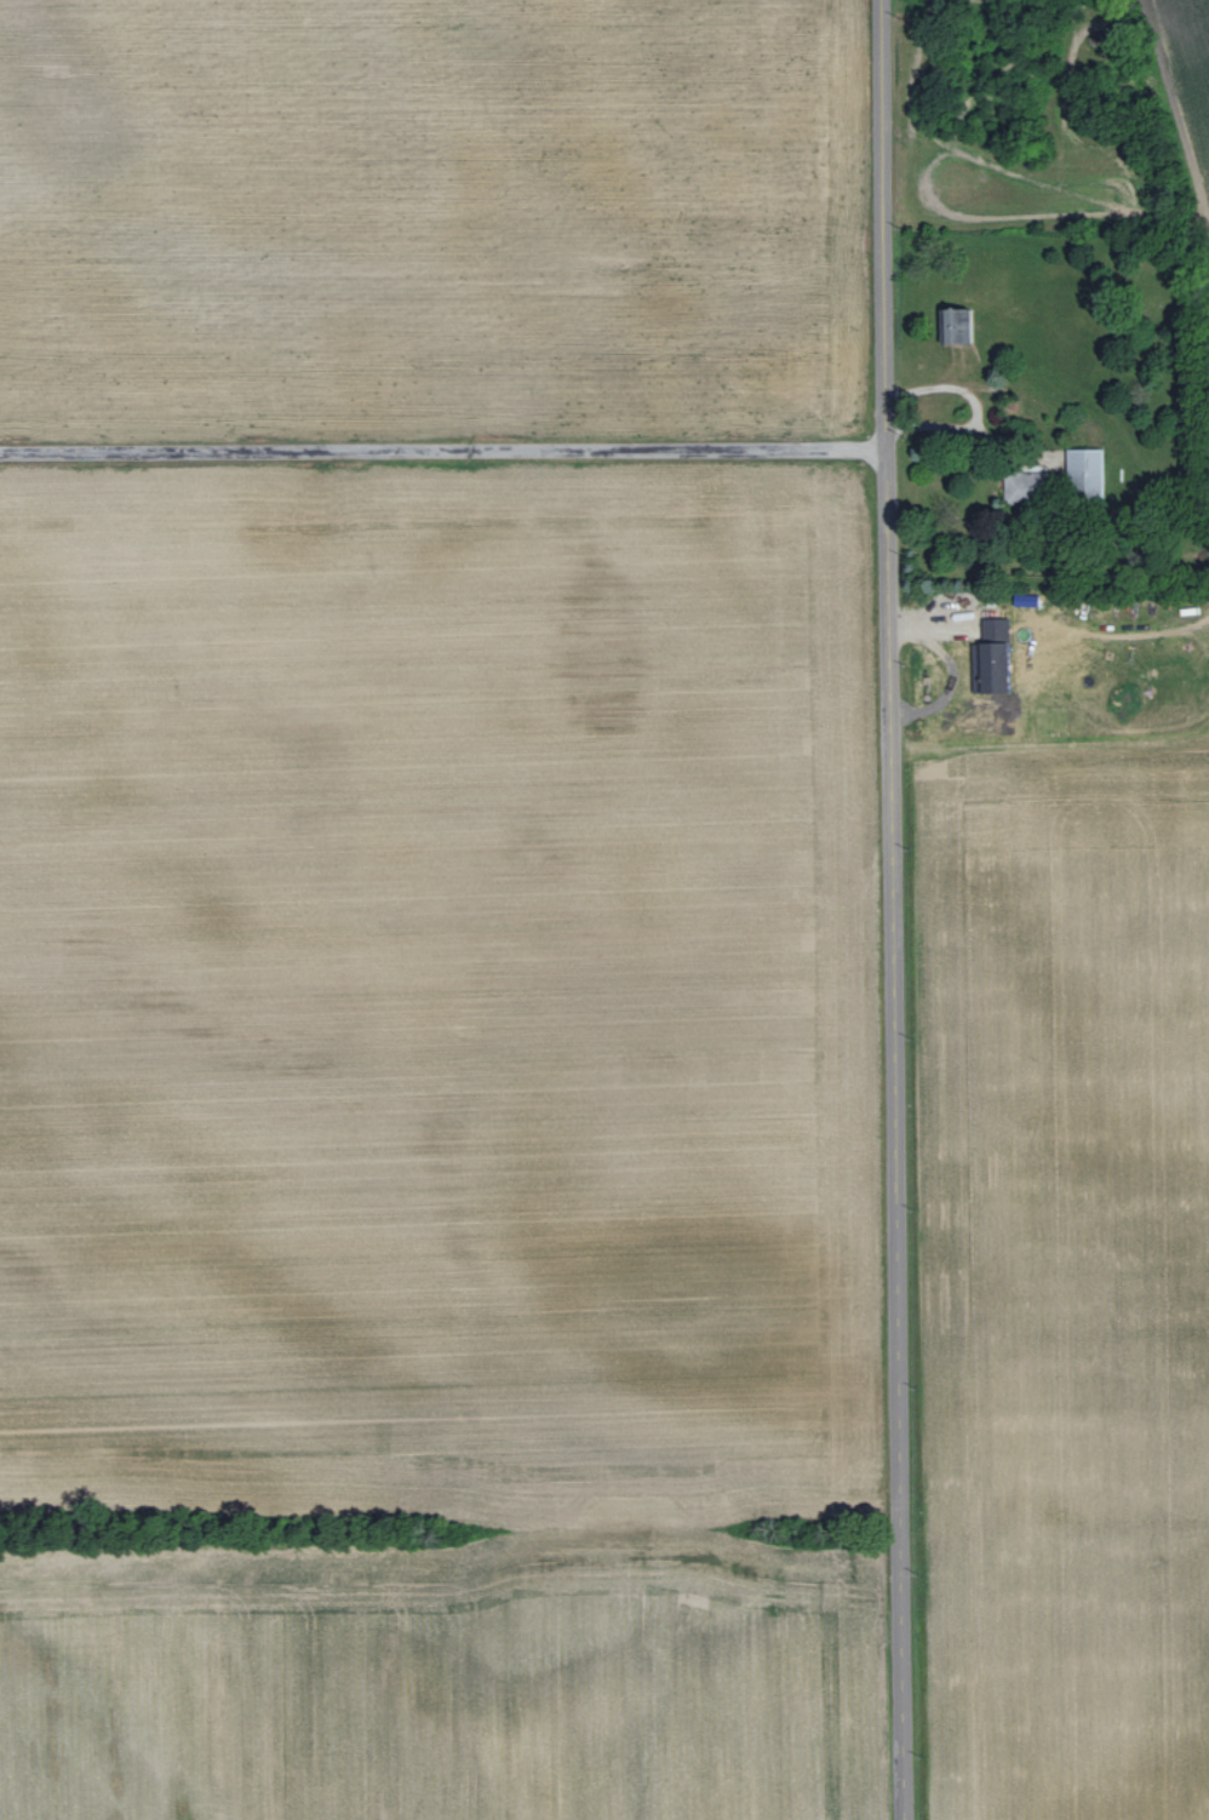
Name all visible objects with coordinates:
building: (959, 326)
road: (443, 452)
building: (1093, 469)
road: (892, 910)

